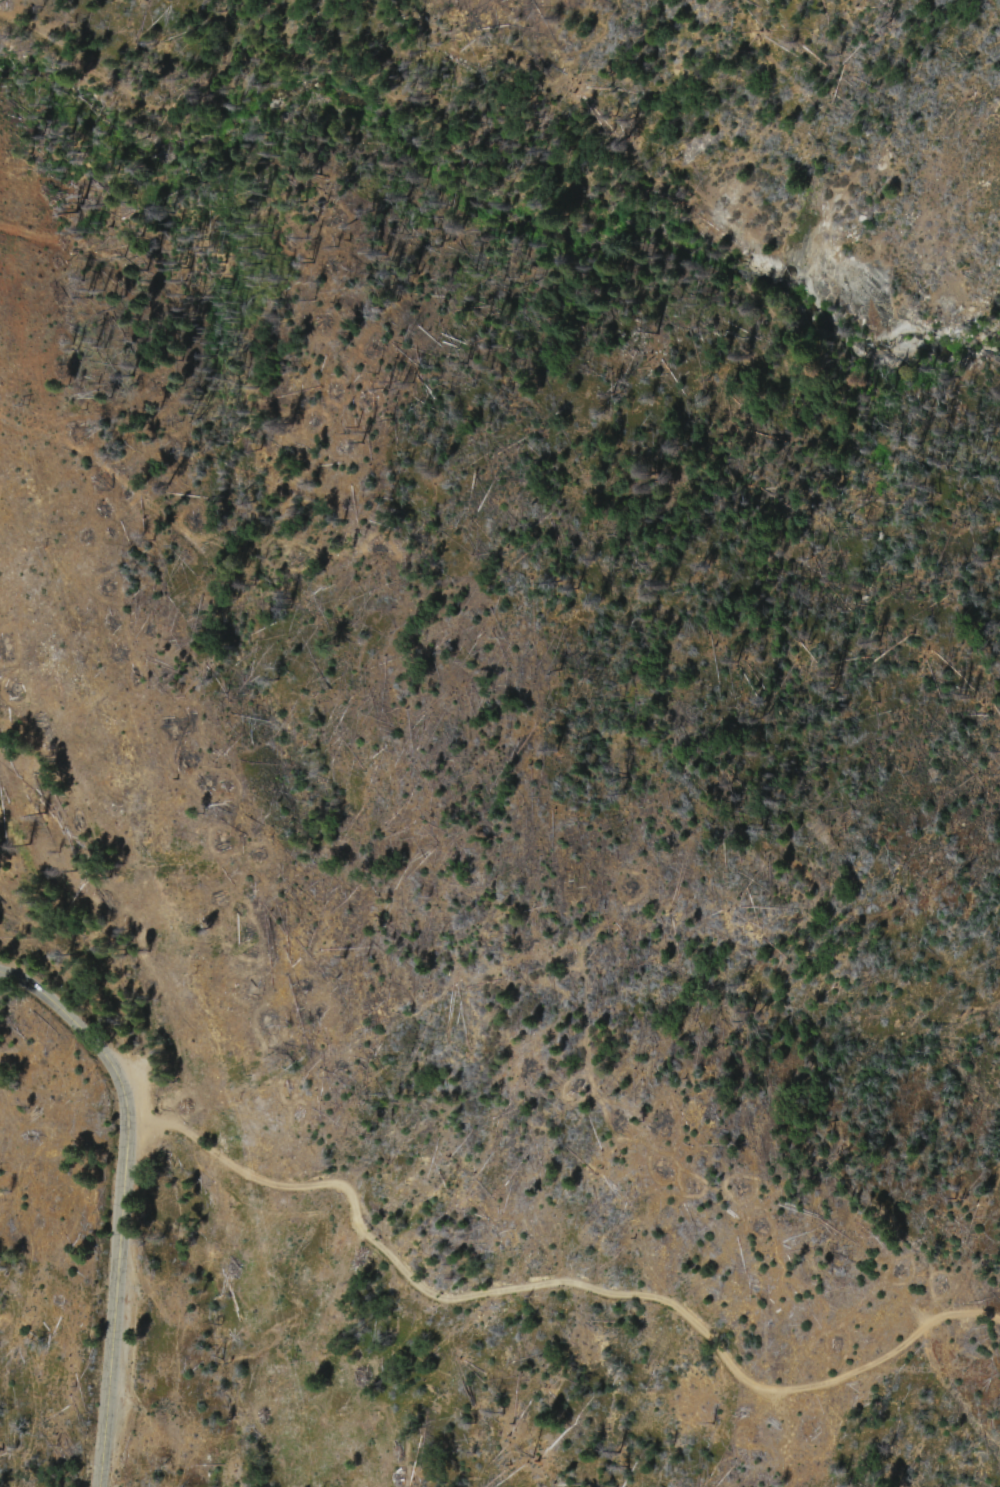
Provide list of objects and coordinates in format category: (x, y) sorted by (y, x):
road: (121, 1201)
road: (551, 1283)

